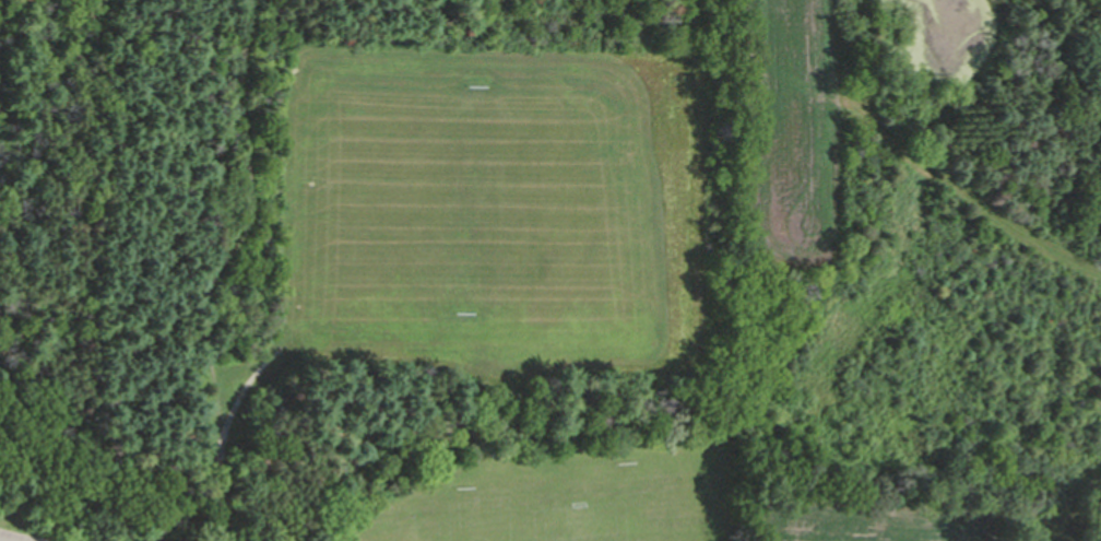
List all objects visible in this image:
road: (170, 118)
road: (47, 163)
park: (496, 204)
road: (249, 228)
park: (371, 270)
road: (120, 302)
road: (16, 333)
road: (224, 437)
park: (550, 499)
parking lot: (19, 537)

